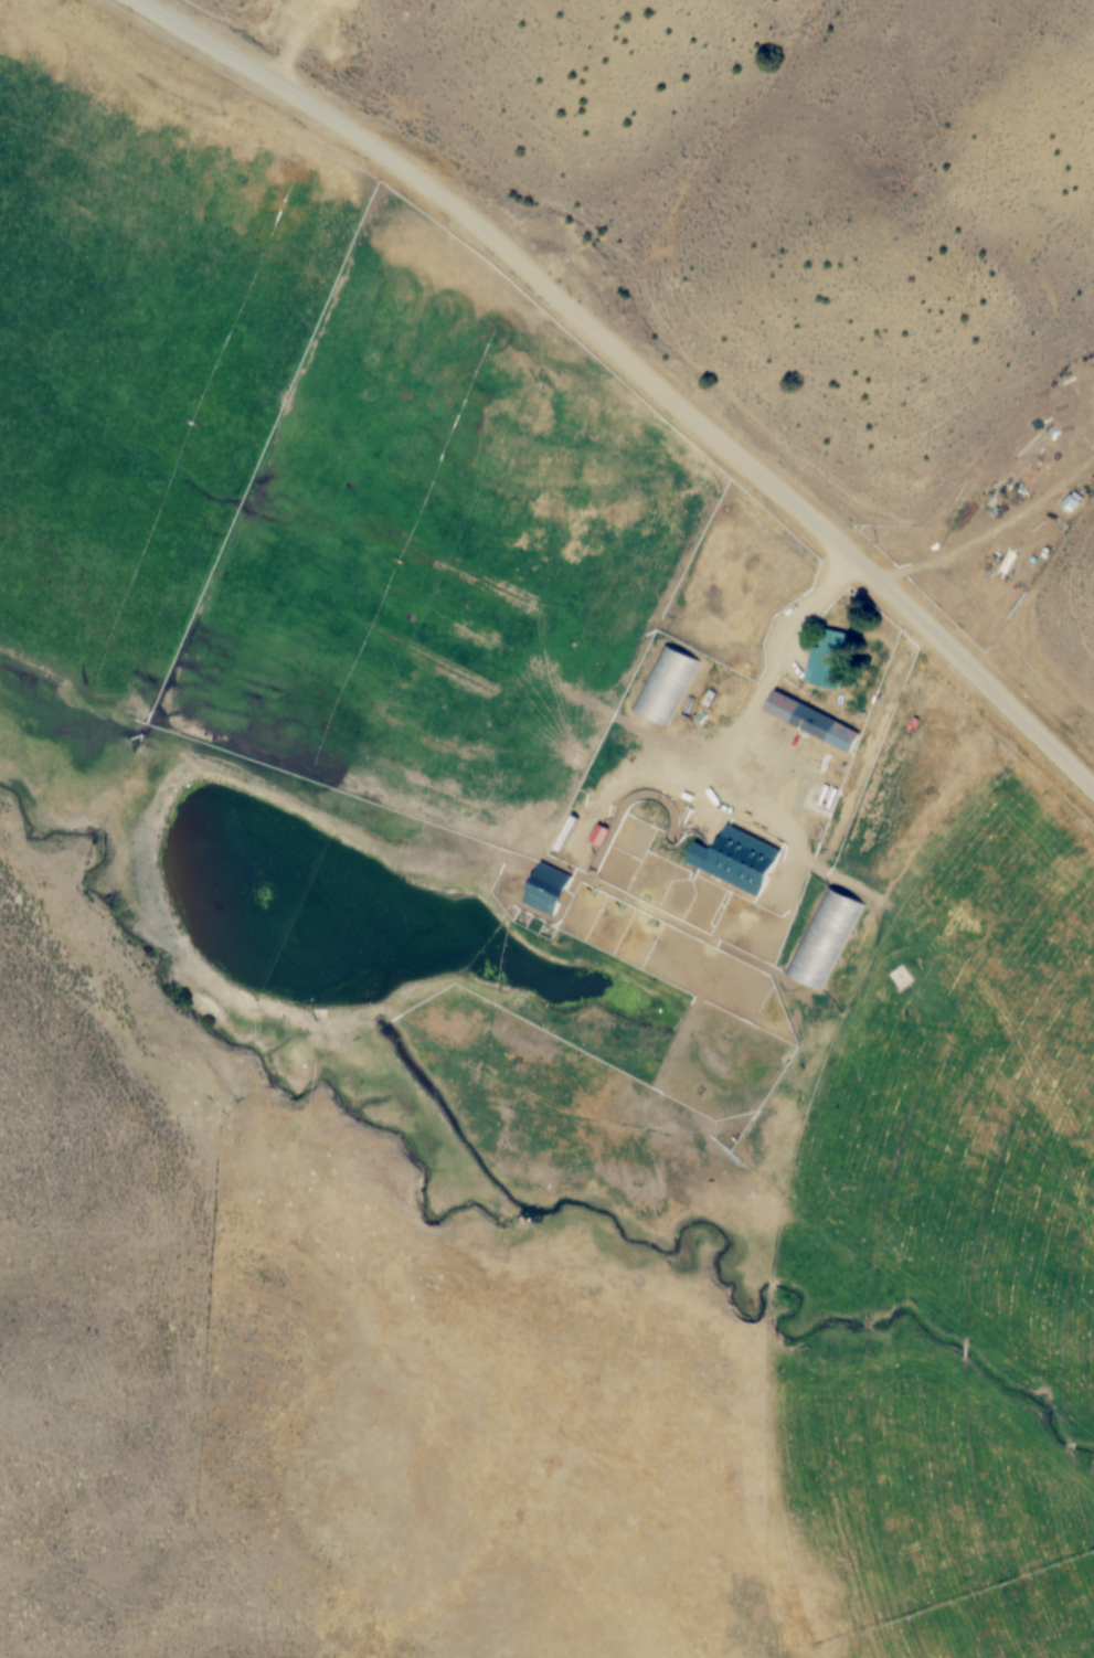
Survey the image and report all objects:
road: (636, 369)
road: (815, 604)
building: (825, 659)
building: (666, 687)
building: (811, 723)
building: (740, 859)
building: (560, 891)
building: (825, 940)

